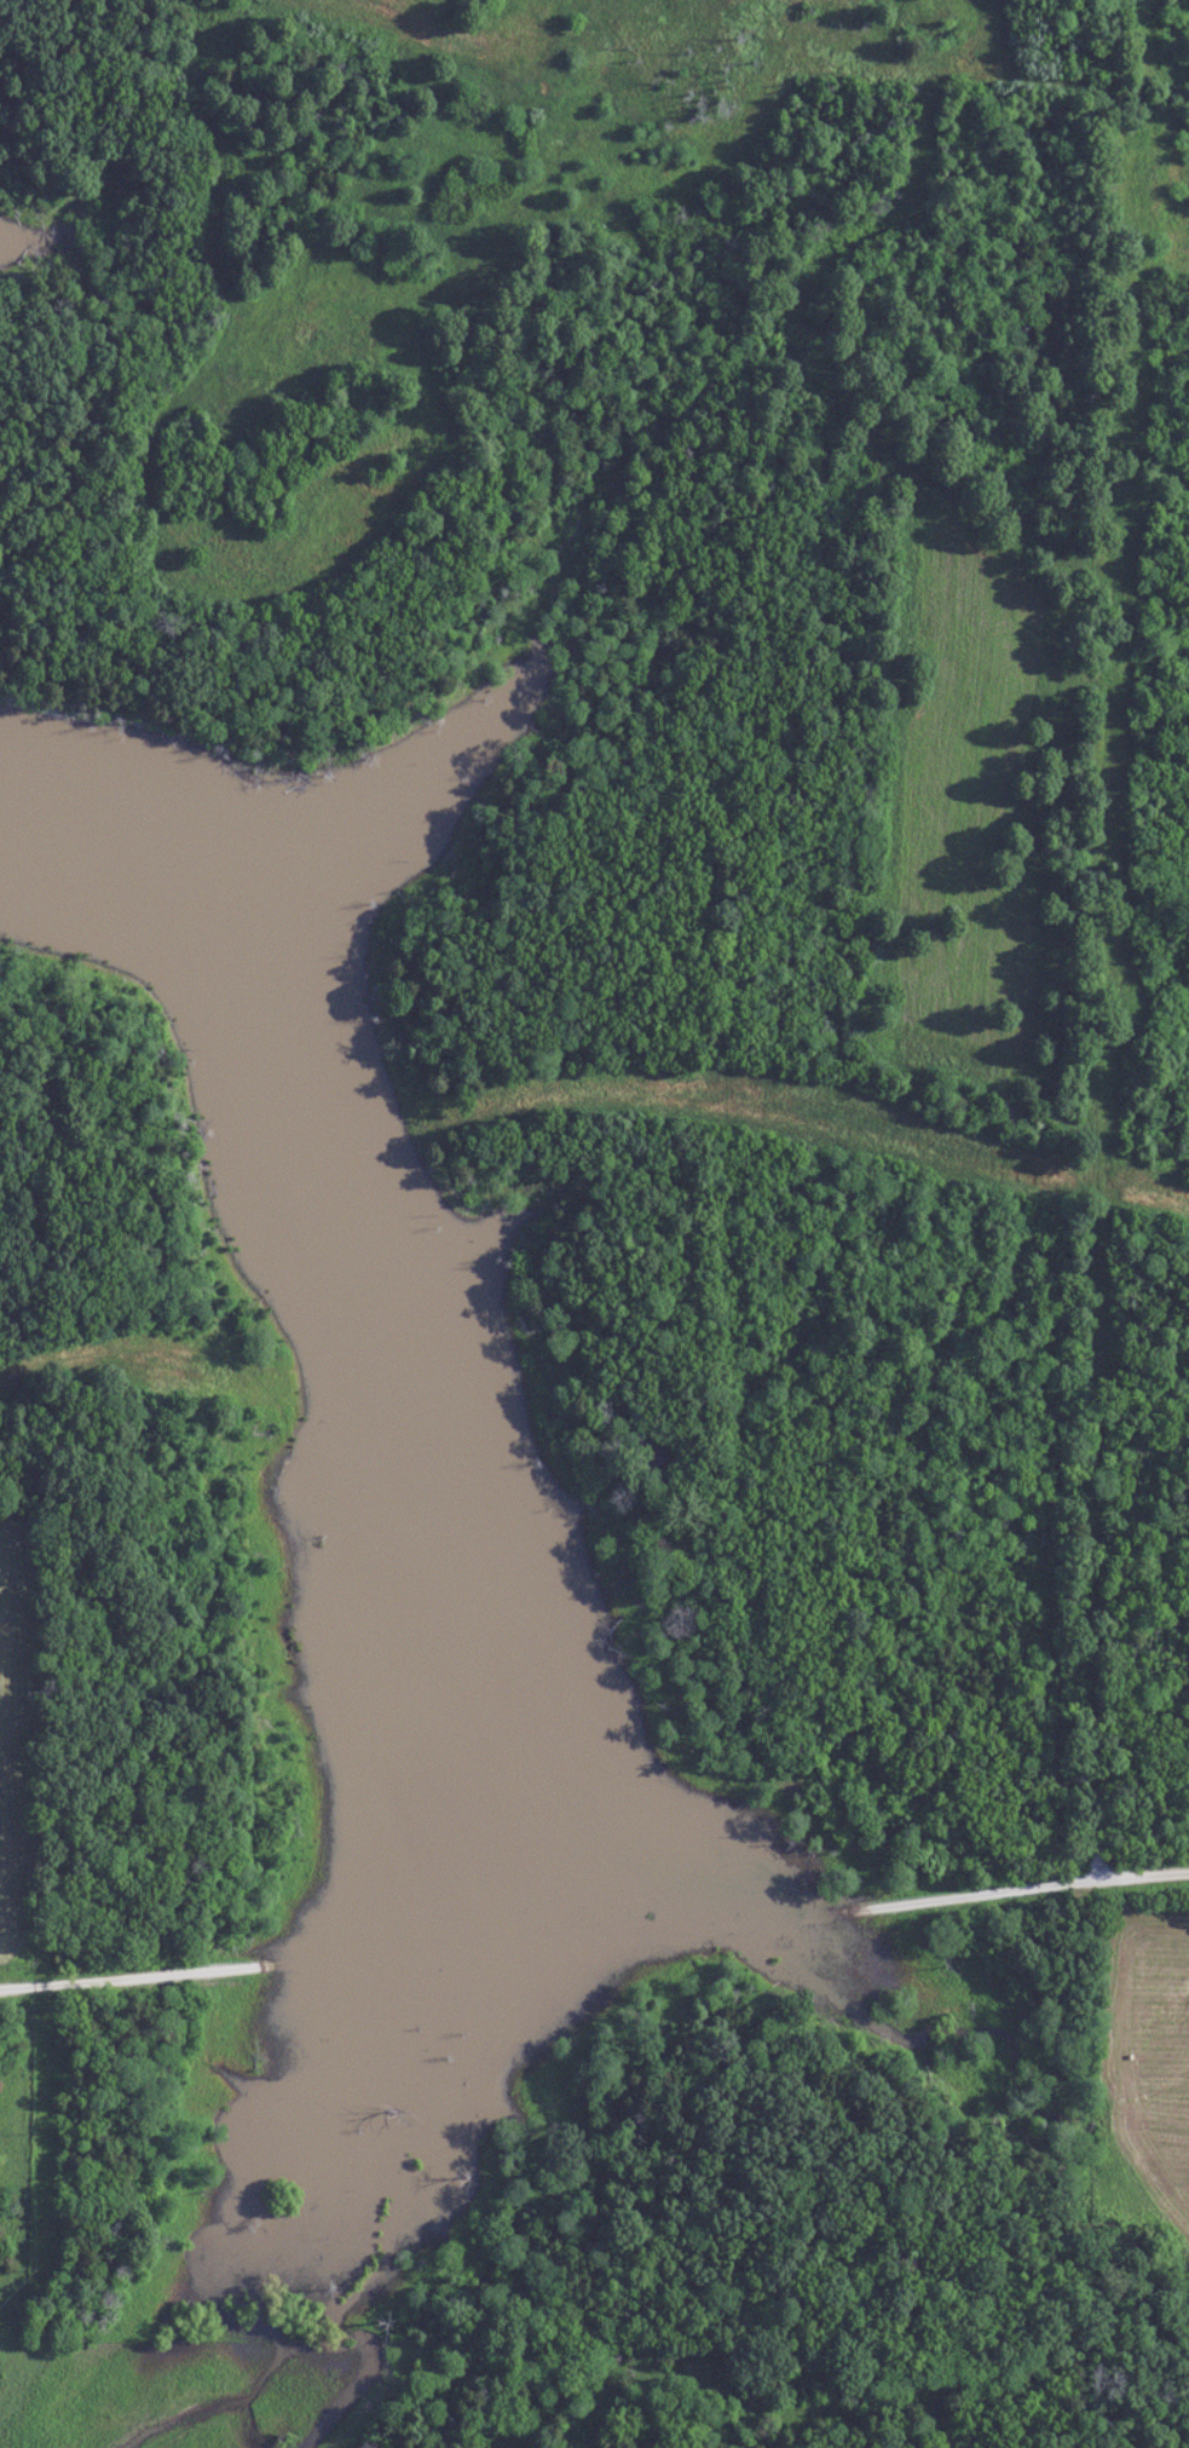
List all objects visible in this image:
road: (831, 1914)
road: (236, 1969)

